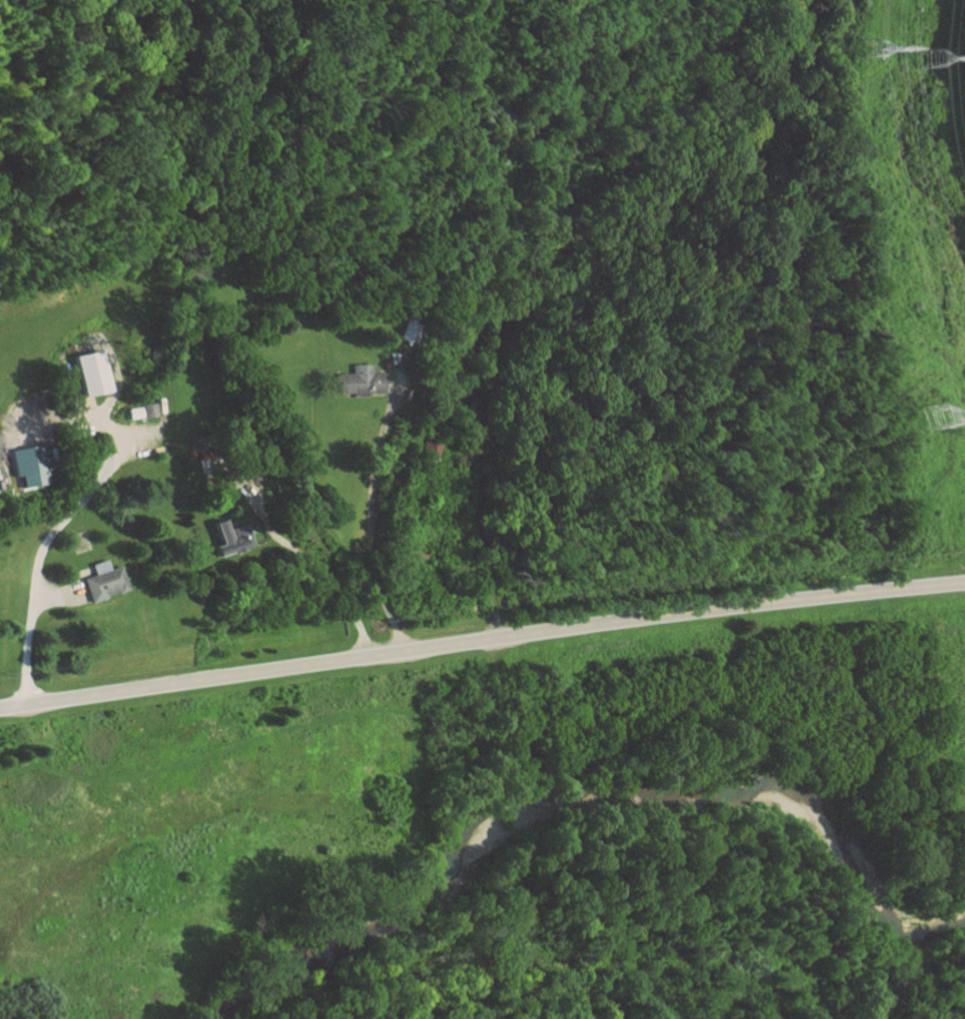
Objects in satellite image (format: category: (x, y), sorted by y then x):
power tower: (870, 49)
power tower: (936, 56)
building: (86, 373)
building: (356, 381)
building: (147, 410)
building: (131, 413)
power tower: (934, 419)
building: (26, 466)
road: (371, 498)
road: (485, 537)
building: (226, 539)
road: (44, 540)
road: (309, 563)
building: (102, 582)
road: (61, 594)
road: (481, 640)

